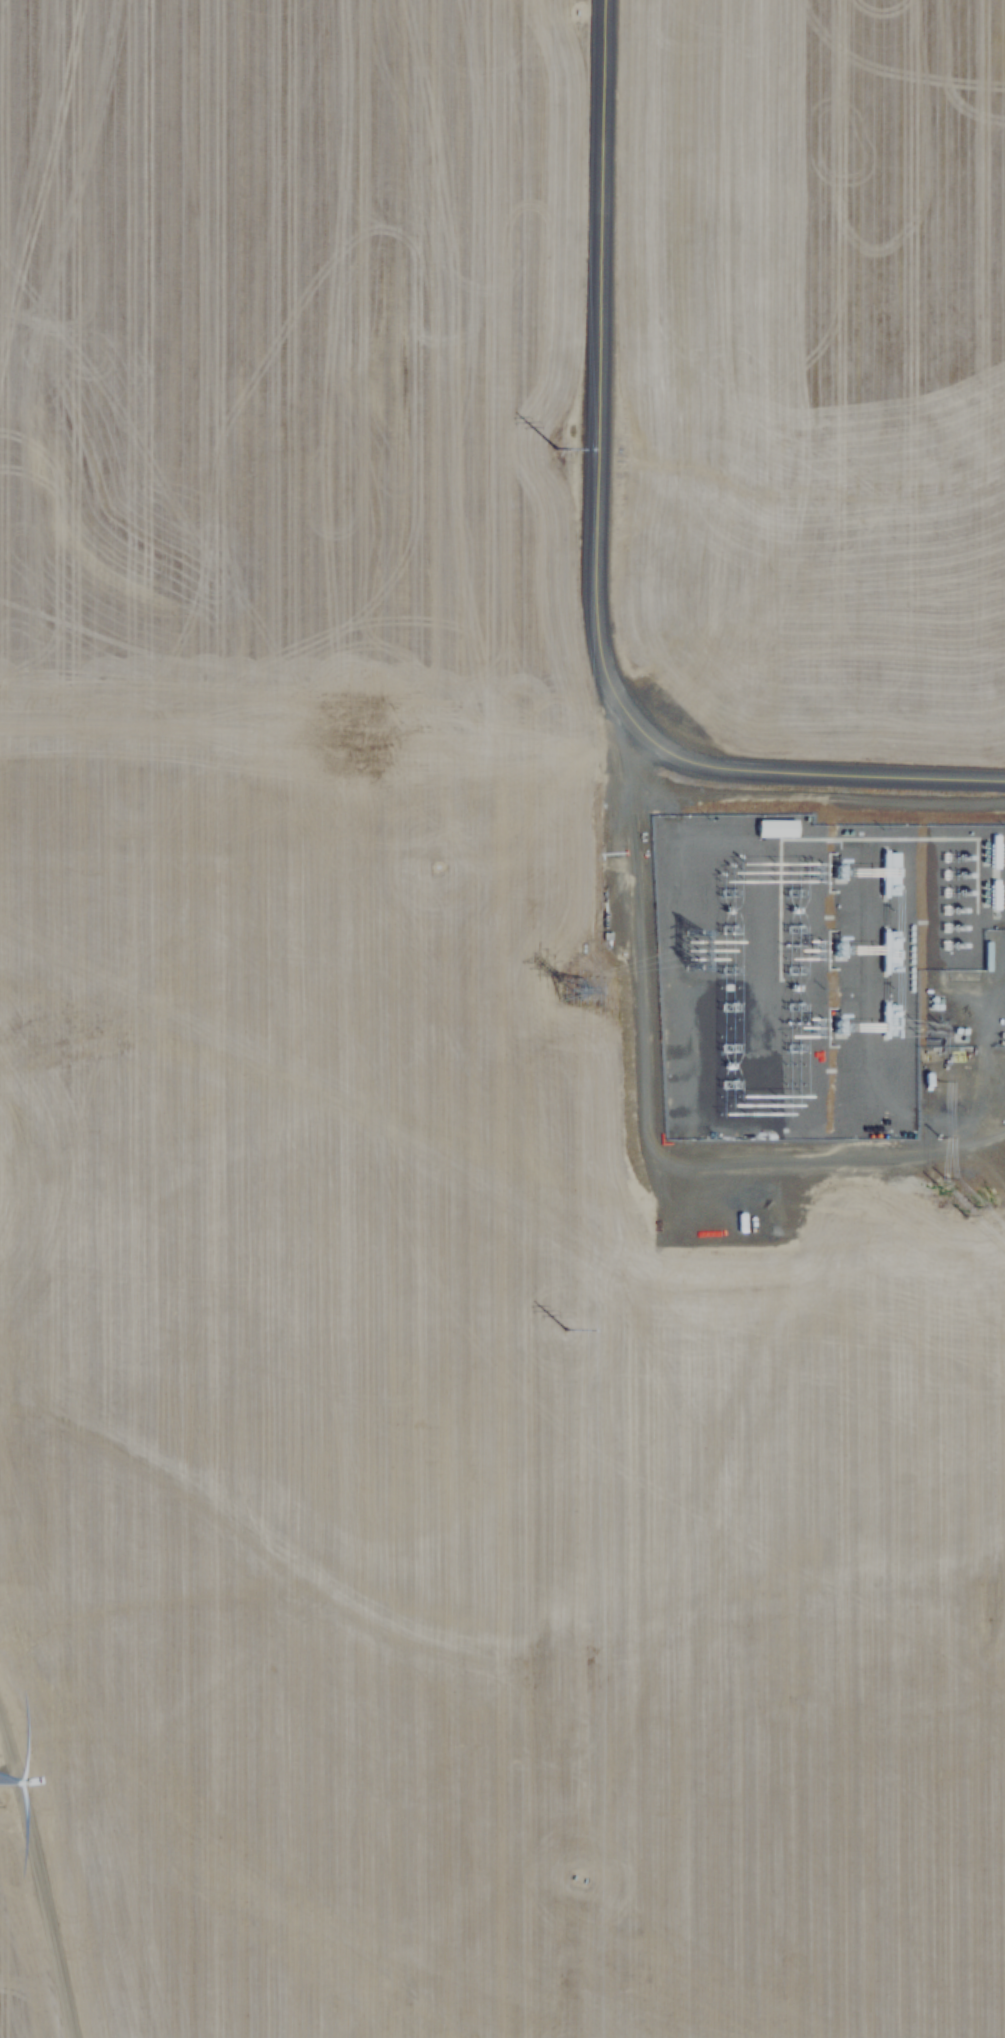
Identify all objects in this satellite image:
power tower: (552, 444)
road: (592, 557)
building: (778, 827)
power substation: (819, 972)
power tower: (569, 996)
power tower: (564, 1333)
road: (36, 1880)

